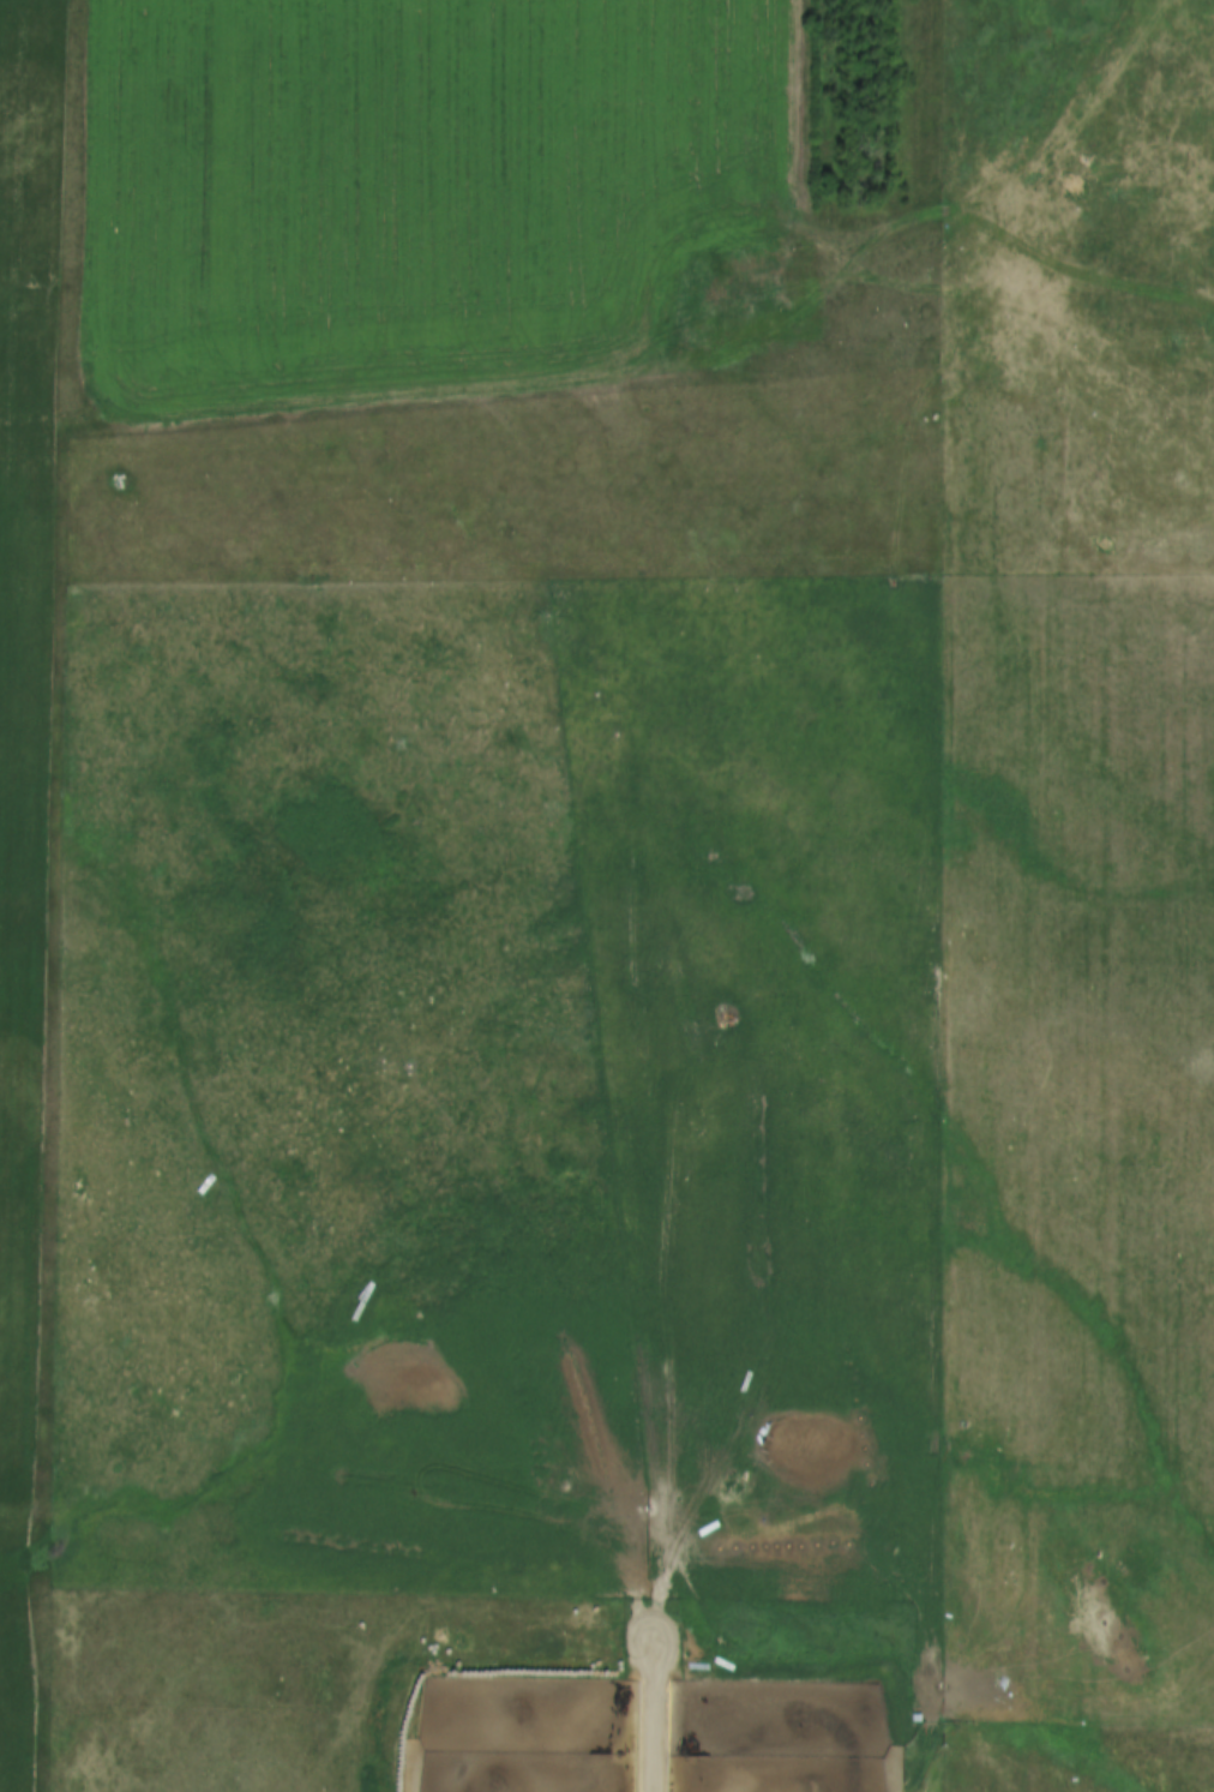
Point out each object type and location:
road: (1060, 96)

